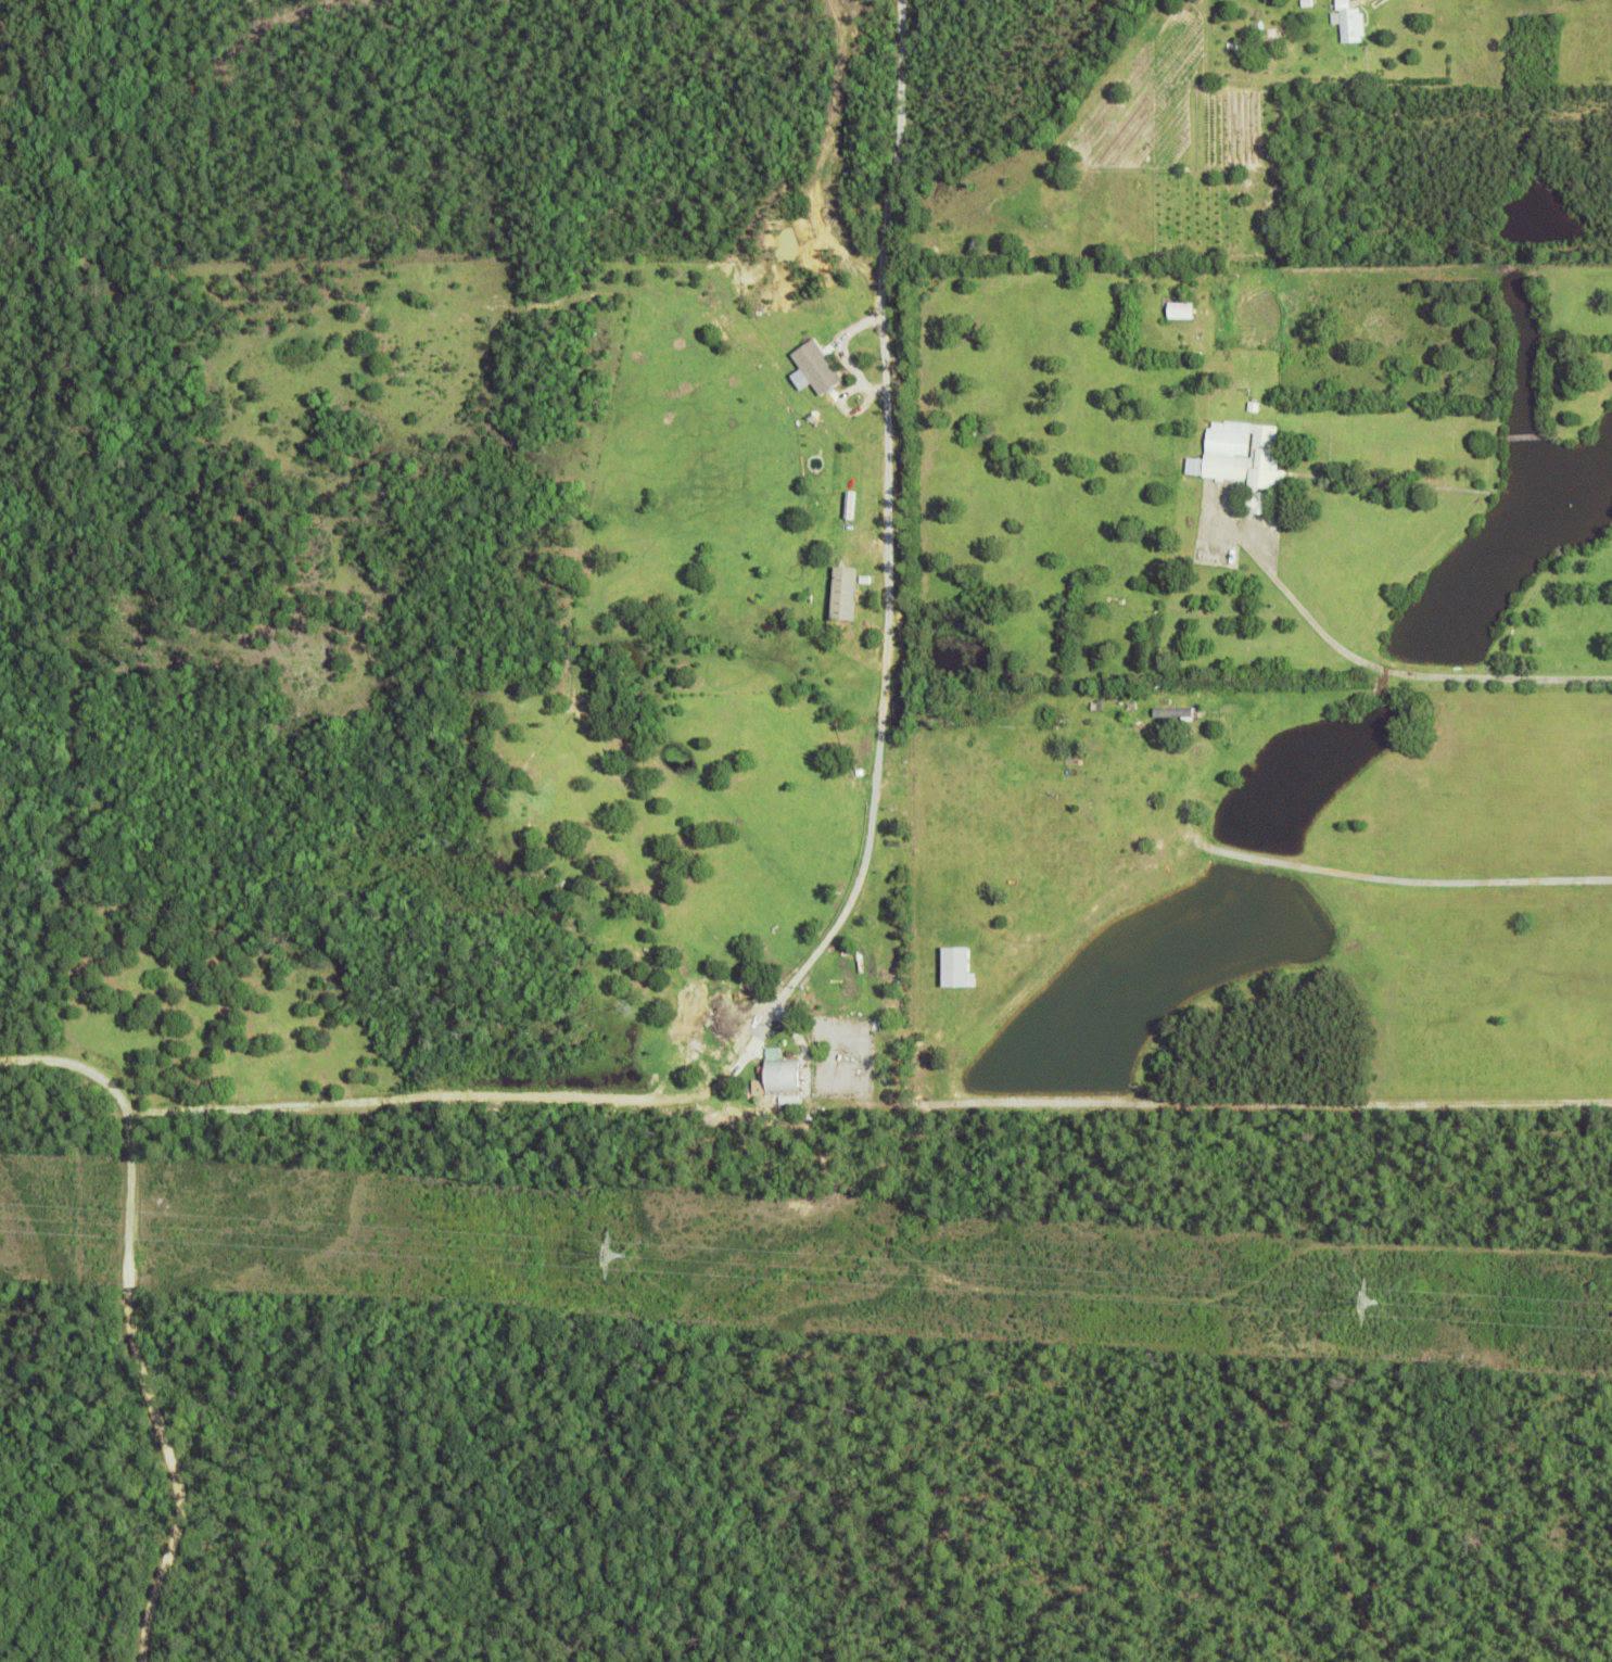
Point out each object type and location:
building: (1307, 3)
building: (1349, 22)
road: (894, 144)
building: (1182, 310)
building: (814, 368)
building: (1255, 407)
building: (1245, 461)
building: (851, 505)
building: (848, 593)
road: (1378, 667)
building: (1176, 712)
building: (955, 967)
building: (749, 1018)
road: (746, 1039)
building: (779, 1071)
power tower: (634, 1257)
power tower: (622, 1265)
power tower: (1376, 1304)
power tower: (1371, 1311)

